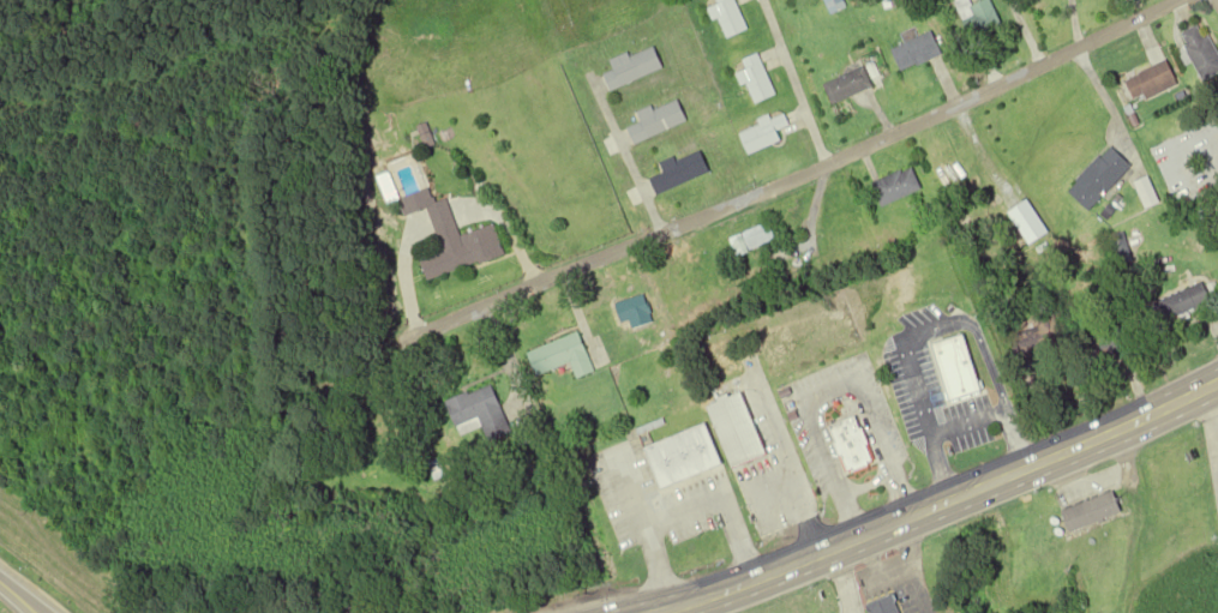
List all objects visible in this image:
building: (835, 5)
building: (980, 17)
building: (728, 18)
building: (1202, 50)
building: (631, 67)
building: (756, 79)
road: (792, 79)
building: (1153, 80)
building: (848, 85)
building: (656, 121)
building: (763, 134)
road: (624, 154)
building: (948, 164)
building: (680, 172)
road: (791, 173)
building: (1103, 179)
building: (896, 186)
building: (442, 223)
building: (755, 240)
building: (1184, 304)
building: (1030, 343)
building: (1104, 345)
road: (985, 355)
building: (563, 356)
building: (935, 383)
building: (480, 413)
building: (737, 431)
building: (851, 446)
building: (684, 458)
road: (1024, 468)
building: (1093, 512)
road: (712, 581)
road: (761, 583)
road: (18, 596)
building: (886, 605)
road: (34, 608)

